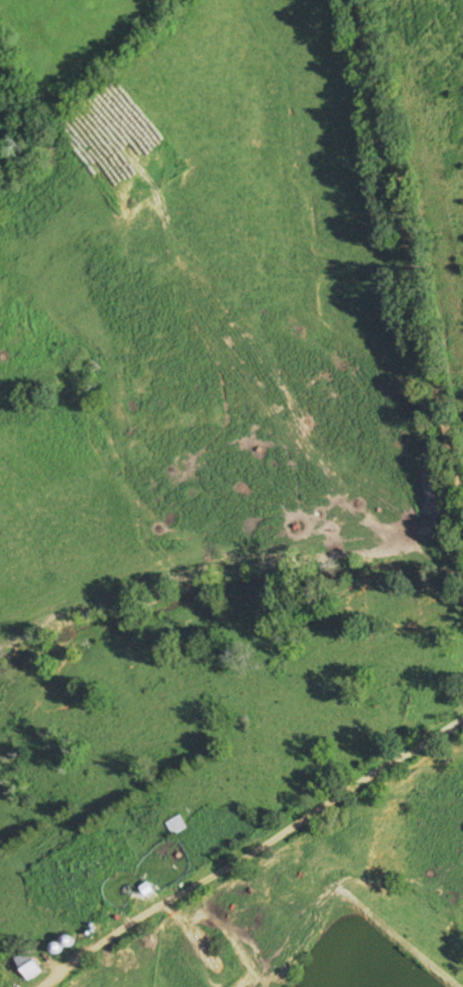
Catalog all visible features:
road: (416, 250)
building: (179, 825)
road: (256, 859)
dam: (400, 933)
building: (33, 966)

